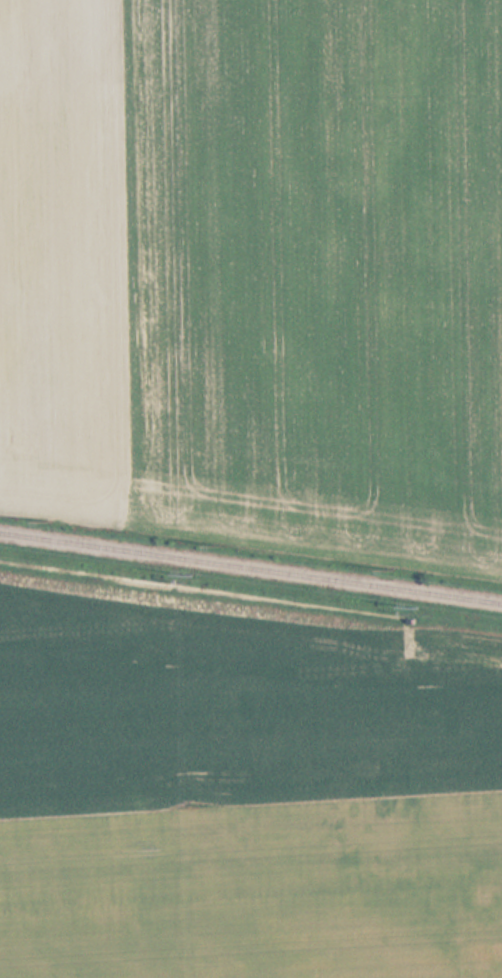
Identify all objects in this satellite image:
railway: (251, 567)

